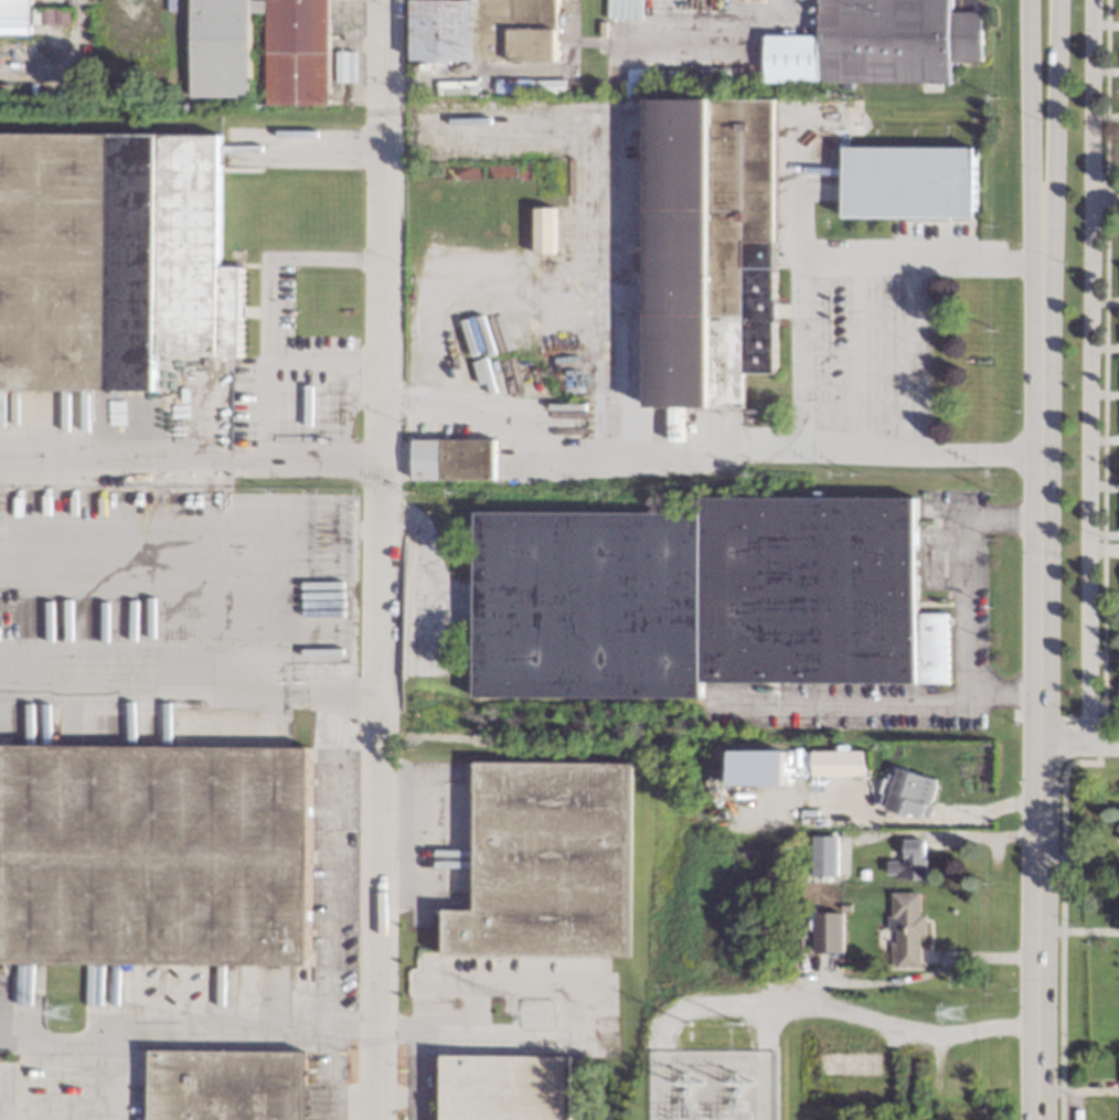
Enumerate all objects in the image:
building: (15, 8)
building: (43, 19)
building: (57, 19)
building: (487, 30)
building: (878, 43)
building: (298, 54)
building: (344, 65)
building: (76, 71)
building: (656, 74)
building: (672, 74)
building: (78, 87)
road: (1055, 109)
road: (1029, 110)
building: (912, 179)
road: (1106, 191)
building: (545, 228)
road: (1043, 241)
building: (711, 249)
building: (111, 257)
road: (835, 266)
road: (270, 320)
road: (855, 360)
road: (906, 360)
road: (1090, 373)
road: (191, 450)
road: (586, 451)
road: (919, 455)
building: (454, 458)
building: (298, 498)
road: (379, 559)
road: (156, 562)
building: (302, 569)
building: (704, 598)
road: (956, 610)
road: (1041, 692)
road: (186, 695)
road: (839, 702)
road: (1079, 746)
building: (835, 760)
building: (760, 767)
building: (910, 791)
building: (1118, 825)
building: (822, 843)
building: (154, 854)
building: (913, 858)
road: (1079, 861)
building: (547, 863)
building: (1117, 904)
building: (848, 905)
building: (955, 908)
building: (907, 927)
building: (830, 928)
road: (835, 1006)
power tower: (686, 1021)
power tower: (738, 1022)
road: (765, 1026)
road: (180, 1037)
building: (924, 1047)
building: (909, 1049)
road: (409, 1052)
building: (853, 1062)
building: (961, 1073)
power tower: (739, 1080)
power tower: (688, 1082)
building: (230, 1084)
building: (712, 1085)
power substation: (712, 1085)
building: (504, 1086)
road: (385, 1094)

